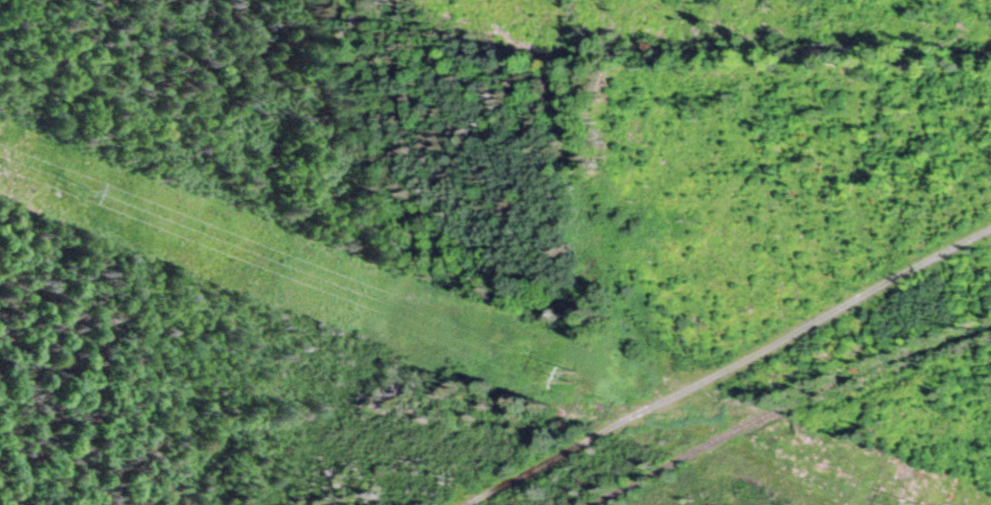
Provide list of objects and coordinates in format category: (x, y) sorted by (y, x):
power tower: (402, 311)
road: (732, 368)
railway: (812, 417)

